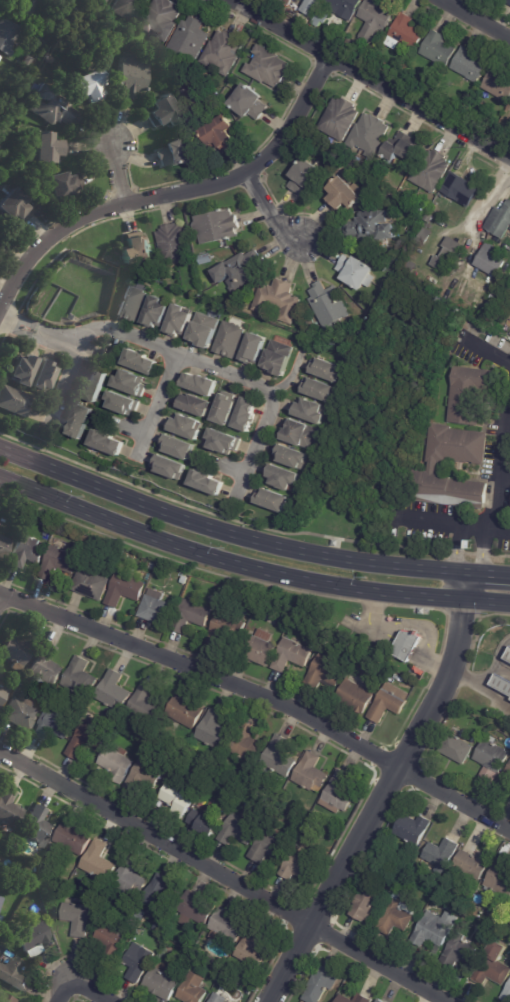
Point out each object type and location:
building: (282, 0)
building: (508, 1)
building: (100, 2)
building: (312, 6)
building: (31, 7)
building: (344, 7)
building: (130, 8)
building: (322, 17)
building: (161, 18)
road: (474, 19)
building: (376, 20)
building: (405, 34)
building: (8, 35)
building: (189, 39)
building: (41, 40)
building: (439, 49)
building: (224, 52)
building: (0, 57)
building: (29, 61)
building: (470, 64)
building: (268, 67)
building: (132, 76)
road: (372, 79)
building: (90, 84)
building: (499, 85)
building: (250, 102)
building: (52, 106)
building: (509, 107)
building: (164, 111)
building: (340, 119)
building: (221, 133)
building: (370, 135)
building: (403, 147)
building: (49, 148)
building: (175, 153)
building: (431, 171)
road: (117, 173)
building: (307, 177)
building: (64, 185)
building: (461, 189)
road: (174, 191)
building: (344, 195)
building: (15, 205)
building: (418, 209)
road: (266, 212)
building: (430, 217)
building: (500, 221)
building: (217, 226)
building: (373, 226)
building: (0, 230)
building: (2, 241)
building: (174, 245)
building: (137, 251)
building: (448, 255)
building: (206, 259)
building: (492, 260)
building: (357, 272)
building: (239, 273)
building: (279, 301)
building: (132, 303)
building: (329, 306)
building: (157, 313)
building: (180, 321)
road: (16, 322)
building: (204, 331)
building: (230, 340)
road: (151, 341)
building: (255, 349)
parking lot: (481, 351)
road: (485, 355)
building: (279, 358)
building: (141, 363)
building: (327, 369)
building: (23, 370)
building: (44, 375)
road: (69, 382)
building: (131, 384)
building: (200, 385)
building: (95, 386)
building: (319, 390)
building: (469, 394)
building: (14, 401)
building: (124, 404)
building: (195, 405)
road: (159, 406)
building: (225, 410)
building: (306, 410)
building: (244, 414)
road: (267, 421)
building: (81, 422)
building: (186, 427)
road: (135, 429)
building: (299, 434)
building: (222, 442)
building: (108, 444)
building: (454, 445)
building: (178, 447)
building: (291, 457)
road: (500, 461)
building: (168, 467)
road: (234, 472)
building: (279, 478)
building: (206, 482)
building: (230, 483)
building: (447, 489)
building: (273, 501)
building: (15, 512)
road: (434, 520)
road: (475, 524)
road: (500, 527)
parking lot: (451, 528)
road: (228, 533)
building: (4, 546)
road: (181, 549)
building: (25, 550)
road: (457, 550)
road: (480, 551)
building: (59, 562)
road: (488, 576)
building: (92, 582)
building: (125, 587)
road: (466, 587)
road: (1, 590)
road: (416, 597)
building: (214, 600)
road: (487, 602)
building: (157, 609)
building: (249, 612)
building: (191, 616)
road: (415, 626)
building: (225, 630)
road: (460, 635)
building: (408, 646)
building: (260, 647)
building: (17, 649)
building: (292, 654)
building: (509, 656)
road: (493, 661)
building: (44, 667)
building: (326, 672)
road: (462, 673)
building: (79, 676)
building: (502, 684)
building: (21, 687)
building: (113, 689)
building: (357, 692)
building: (2, 693)
road: (262, 693)
road: (490, 693)
building: (47, 698)
building: (389, 702)
building: (146, 703)
building: (22, 711)
building: (185, 711)
building: (54, 724)
building: (213, 728)
building: (471, 737)
building: (86, 740)
building: (246, 741)
building: (509, 743)
building: (457, 748)
building: (279, 757)
building: (492, 758)
building: (183, 761)
building: (117, 763)
building: (311, 772)
building: (508, 772)
building: (143, 776)
building: (251, 784)
building: (225, 791)
building: (339, 793)
building: (178, 797)
building: (210, 804)
building: (9, 807)
building: (316, 817)
building: (203, 822)
building: (37, 826)
building: (414, 829)
building: (238, 830)
road: (359, 835)
building: (73, 838)
building: (268, 845)
building: (440, 855)
building: (98, 861)
building: (473, 864)
building: (299, 865)
building: (0, 874)
road: (222, 878)
building: (130, 879)
building: (500, 879)
building: (24, 885)
building: (161, 895)
building: (1, 901)
building: (368, 902)
building: (196, 909)
building: (106, 911)
building: (398, 916)
building: (79, 917)
building: (495, 921)
building: (226, 927)
building: (435, 929)
building: (481, 931)
building: (499, 934)
building: (33, 937)
building: (113, 937)
building: (5, 940)
building: (160, 941)
building: (251, 949)
building: (458, 951)
building: (210, 959)
building: (138, 961)
building: (494, 965)
building: (13, 974)
building: (242, 977)
road: (77, 983)
building: (161, 983)
building: (321, 984)
building: (193, 989)
building: (506, 995)
building: (6, 997)
building: (219, 998)
building: (344, 999)
building: (363, 999)
building: (380, 1000)

